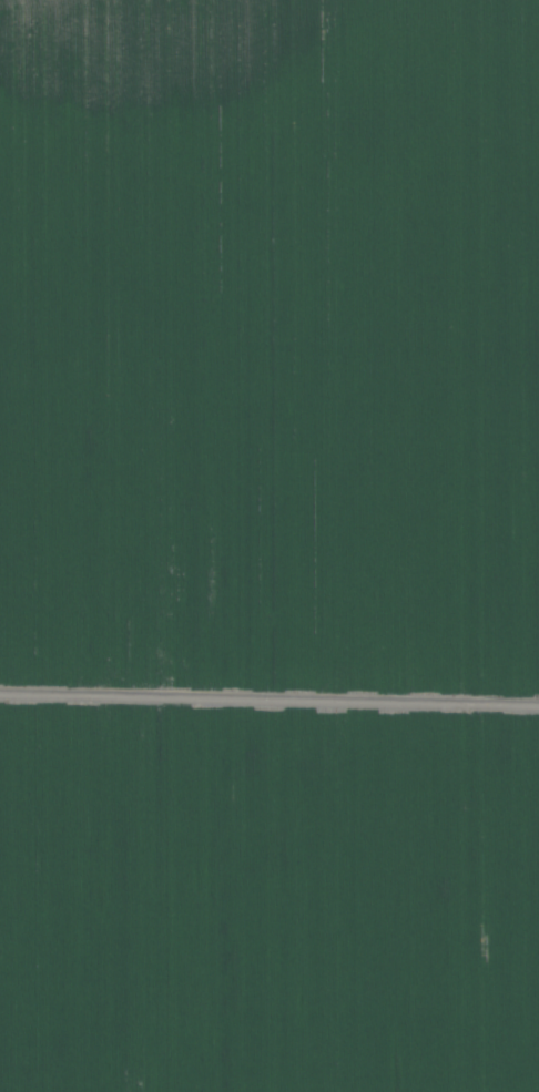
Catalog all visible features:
crop: (269, 545)

